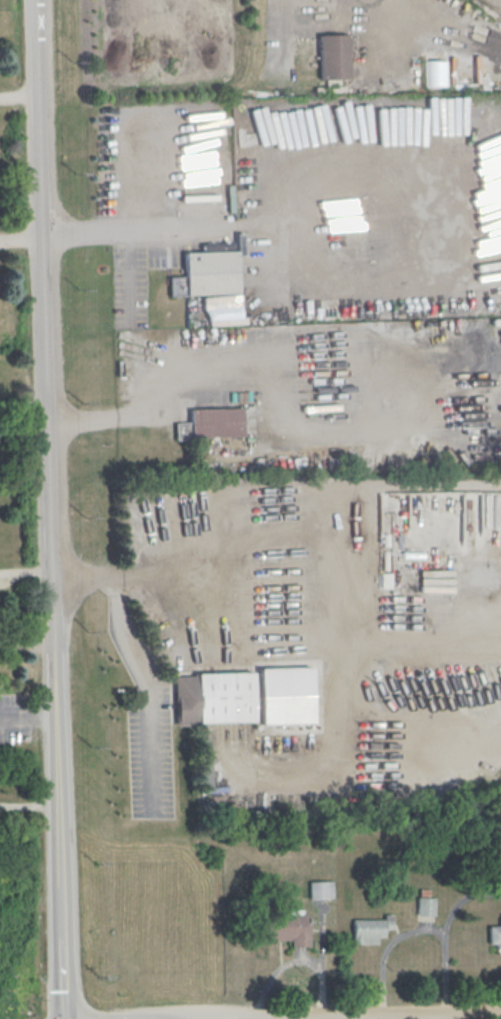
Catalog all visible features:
building: (333, 56)
building: (435, 73)
road: (20, 96)
road: (353, 156)
road: (141, 169)
road: (219, 217)
road: (22, 234)
building: (206, 274)
road: (260, 387)
building: (210, 423)
road: (49, 465)
road: (279, 524)
road: (147, 684)
building: (246, 696)
road: (27, 718)
parking lot: (149, 749)
building: (320, 889)
building: (425, 906)
building: (287, 928)
building: (370, 929)
road: (441, 929)
building: (494, 934)
road: (383, 948)
road: (61, 975)
road: (385, 1011)
road: (228, 1016)
road: (302, 1016)
road: (176, 1018)
road: (187, 1018)

